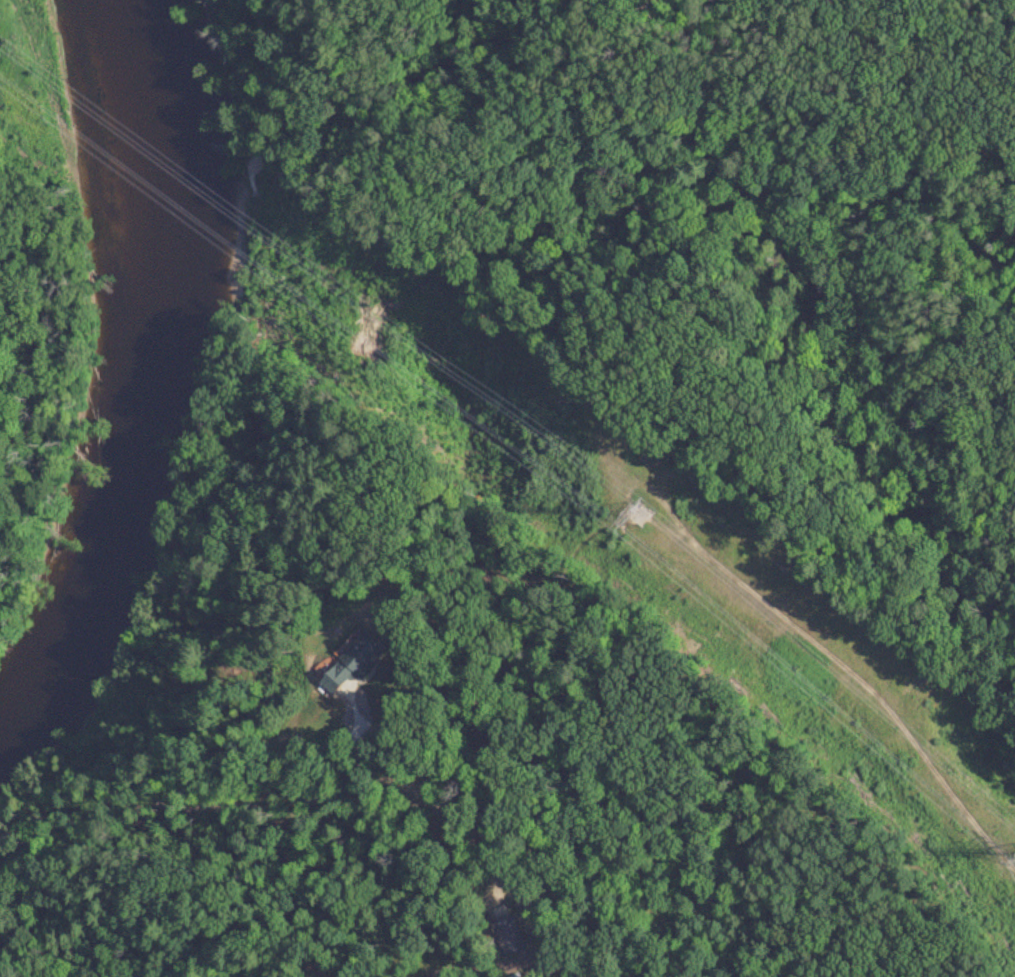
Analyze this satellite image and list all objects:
road: (864, 97)
river: (137, 382)
power tower: (638, 510)
building: (351, 664)
road: (459, 824)
road: (442, 959)

